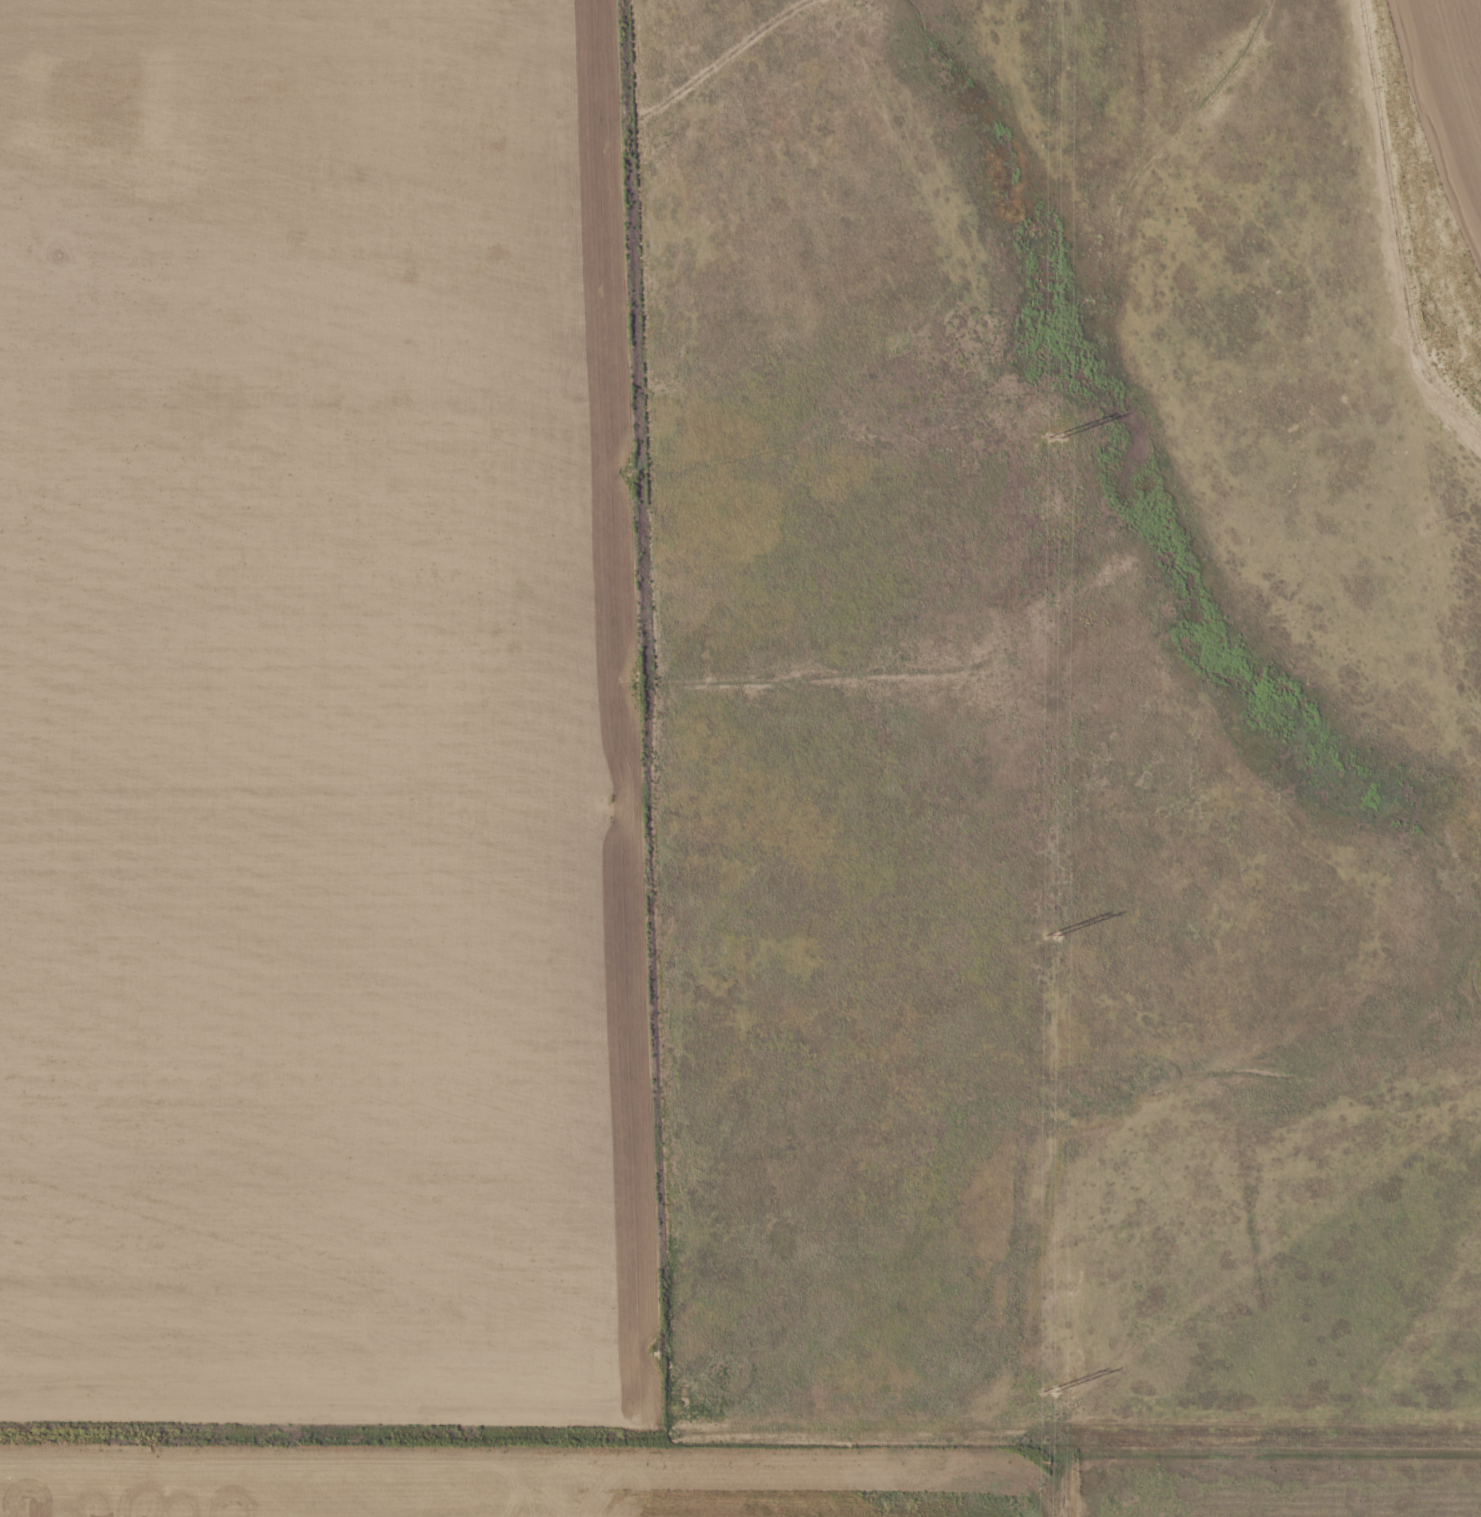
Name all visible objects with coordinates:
power tower: (1053, 440)
power tower: (1051, 934)
power tower: (1047, 1392)

